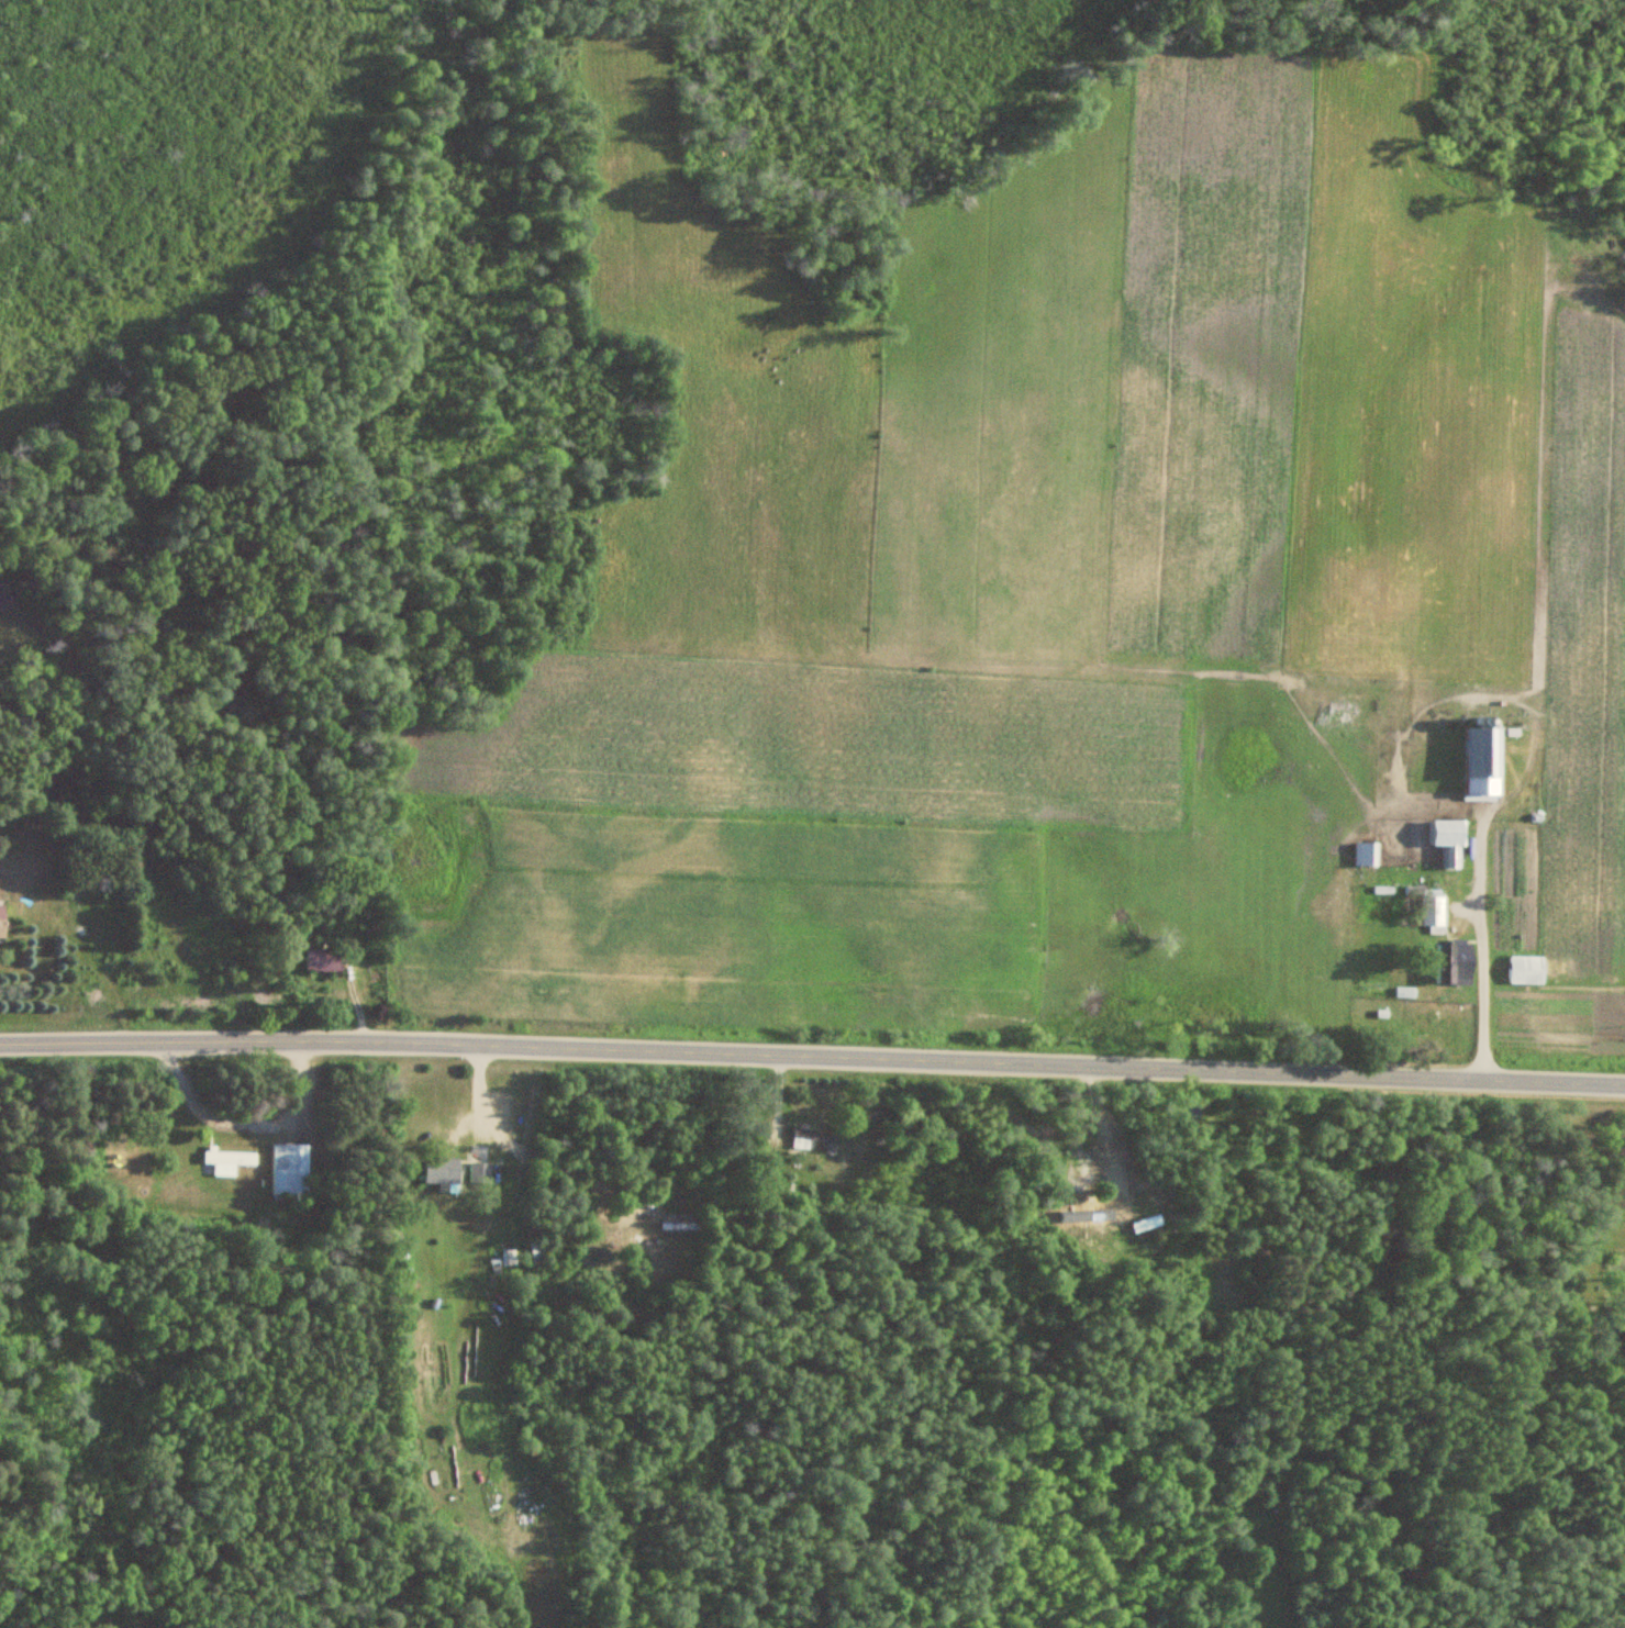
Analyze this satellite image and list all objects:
building: (1487, 761)
building: (1450, 833)
building: (1368, 855)
building: (1434, 912)
building: (2, 924)
building: (323, 960)
building: (1529, 970)
building: (1457, 971)
road: (812, 1028)
building: (812, 1138)
building: (226, 1160)
building: (288, 1168)
building: (443, 1171)
building: (480, 1173)
building: (537, 1253)

